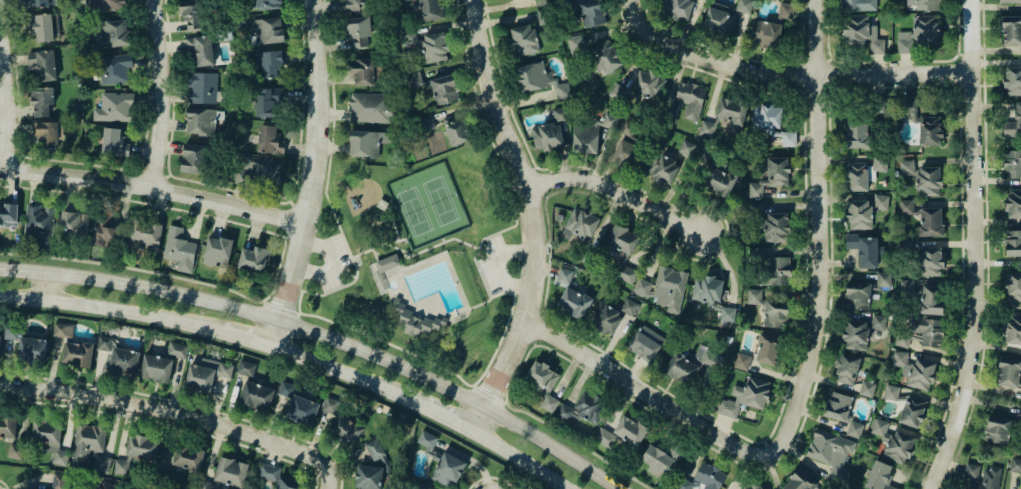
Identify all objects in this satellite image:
building: (399, 0)
building: (1010, 1)
building: (564, 2)
building: (37, 3)
building: (268, 4)
building: (922, 4)
building: (103, 5)
building: (355, 5)
building: (859, 5)
building: (744, 6)
building: (678, 8)
building: (428, 10)
street lamp: (980, 11)
building: (591, 12)
building: (192, 14)
building: (718, 18)
building: (40, 26)
building: (773, 29)
building: (926, 29)
building: (269, 30)
building: (1011, 30)
building: (360, 31)
building: (112, 33)
building: (862, 33)
building: (409, 37)
building: (524, 39)
building: (904, 42)
building: (575, 43)
building: (435, 47)
building: (201, 49)
building: (607, 56)
road: (739, 56)
street lamp: (675, 59)
road: (829, 59)
road: (892, 61)
road: (798, 62)
building: (272, 63)
road: (813, 63)
building: (43, 64)
building: (116, 69)
building: (362, 71)
road: (792, 73)
road: (827, 74)
building: (532, 76)
road: (802, 77)
building: (414, 80)
building: (1012, 80)
road: (10, 84)
building: (648, 84)
building: (202, 87)
building: (444, 89)
road: (816, 89)
road: (830, 89)
building: (562, 90)
road: (801, 92)
road: (165, 93)
building: (618, 93)
building: (689, 101)
building: (41, 102)
building: (268, 102)
building: (114, 107)
building: (372, 107)
building: (733, 111)
building: (202, 120)
building: (609, 120)
building: (772, 123)
building: (923, 123)
building: (1013, 123)
building: (707, 128)
building: (49, 132)
building: (456, 132)
building: (857, 133)
building: (548, 136)
building: (585, 138)
building: (269, 140)
building: (114, 142)
building: (367, 143)
building: (627, 153)
road: (19, 156)
road: (8, 157)
building: (193, 158)
street lamp: (327, 161)
road: (86, 163)
building: (1013, 163)
building: (668, 164)
building: (261, 168)
road: (533, 168)
road: (138, 171)
road: (151, 175)
road: (166, 175)
road: (316, 175)
building: (771, 176)
building: (857, 176)
building: (923, 177)
road: (537, 181)
road: (155, 185)
road: (620, 190)
road: (242, 193)
road: (545, 195)
road: (822, 201)
road: (290, 203)
building: (881, 203)
building: (1013, 203)
park: (427, 204)
building: (908, 210)
building: (859, 214)
building: (8, 215)
road: (536, 217)
road: (392, 218)
road: (289, 220)
building: (931, 221)
building: (39, 223)
building: (75, 223)
building: (584, 223)
building: (776, 227)
building: (106, 234)
building: (145, 234)
road: (285, 236)
road: (443, 239)
building: (620, 240)
building: (1013, 242)
road: (377, 245)
road: (431, 245)
road: (980, 247)
road: (988, 247)
building: (179, 249)
building: (864, 249)
building: (217, 251)
road: (374, 253)
building: (254, 258)
park: (418, 259)
road: (279, 260)
parking lot: (331, 261)
building: (387, 261)
building: (931, 261)
road: (331, 262)
parking lot: (495, 264)
road: (496, 264)
building: (773, 267)
street lamp: (106, 271)
road: (392, 271)
road: (831, 272)
building: (626, 273)
road: (398, 275)
building: (564, 277)
building: (884, 278)
road: (51, 284)
road: (385, 286)
building: (906, 287)
building: (1013, 287)
building: (664, 288)
building: (707, 289)
building: (857, 293)
street lamp: (222, 294)
building: (931, 299)
road: (263, 301)
building: (574, 302)
road: (479, 303)
road: (111, 307)
building: (628, 307)
building: (767, 307)
road: (280, 308)
road: (298, 313)
street lamp: (540, 314)
road: (542, 316)
building: (414, 319)
building: (607, 320)
street lamp: (333, 328)
road: (536, 328)
building: (1012, 328)
building: (63, 330)
building: (10, 331)
road: (328, 331)
building: (926, 332)
building: (855, 334)
building: (0, 335)
road: (249, 338)
road: (587, 342)
road: (533, 343)
building: (645, 343)
building: (32, 349)
building: (769, 349)
building: (78, 353)
building: (119, 355)
building: (710, 359)
road: (432, 361)
building: (742, 361)
building: (162, 363)
road: (283, 363)
building: (246, 368)
building: (681, 368)
building: (846, 368)
building: (915, 371)
building: (1009, 372)
building: (206, 373)
road: (350, 373)
building: (543, 384)
road: (473, 386)
building: (867, 388)
road: (488, 394)
building: (256, 395)
building: (745, 396)
street lamp: (503, 399)
road: (187, 402)
road: (129, 403)
road: (504, 403)
building: (299, 404)
building: (908, 405)
building: (838, 406)
building: (582, 408)
road: (675, 409)
road: (448, 416)
building: (340, 423)
road: (167, 425)
building: (8, 426)
building: (998, 427)
building: (854, 429)
building: (630, 430)
building: (606, 437)
building: (50, 439)
building: (893, 441)
building: (88, 442)
building: (142, 447)
building: (375, 449)
building: (15, 451)
road: (303, 452)
building: (830, 453)
building: (181, 457)
road: (522, 458)
building: (659, 459)
building: (440, 461)
building: (102, 463)
building: (1015, 465)
building: (120, 467)
building: (267, 472)
building: (229, 473)
building: (165, 474)
building: (879, 476)
building: (983, 476)
building: (369, 477)
road: (490, 477)
building: (703, 478)
building: (801, 481)
building: (288, 483)
road: (4, 484)
building: (101, 487)
building: (754, 487)

